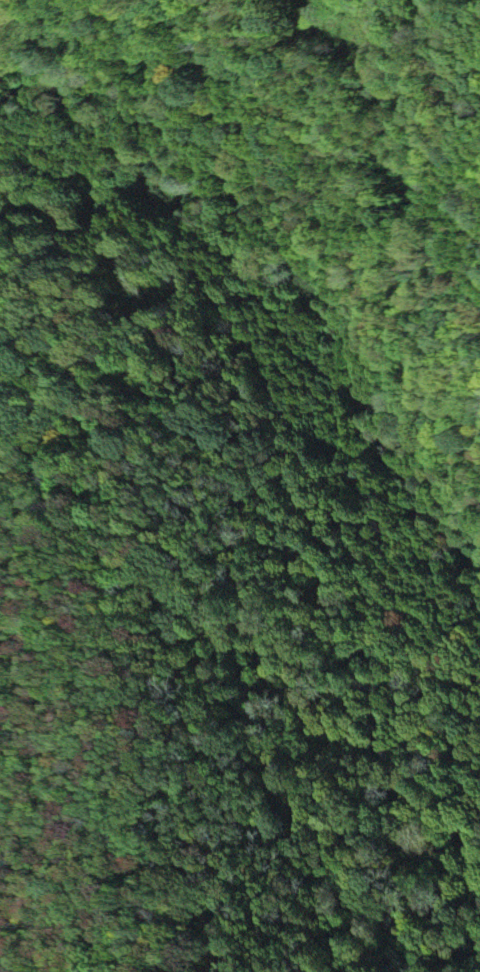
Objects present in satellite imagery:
road: (277, 326)

